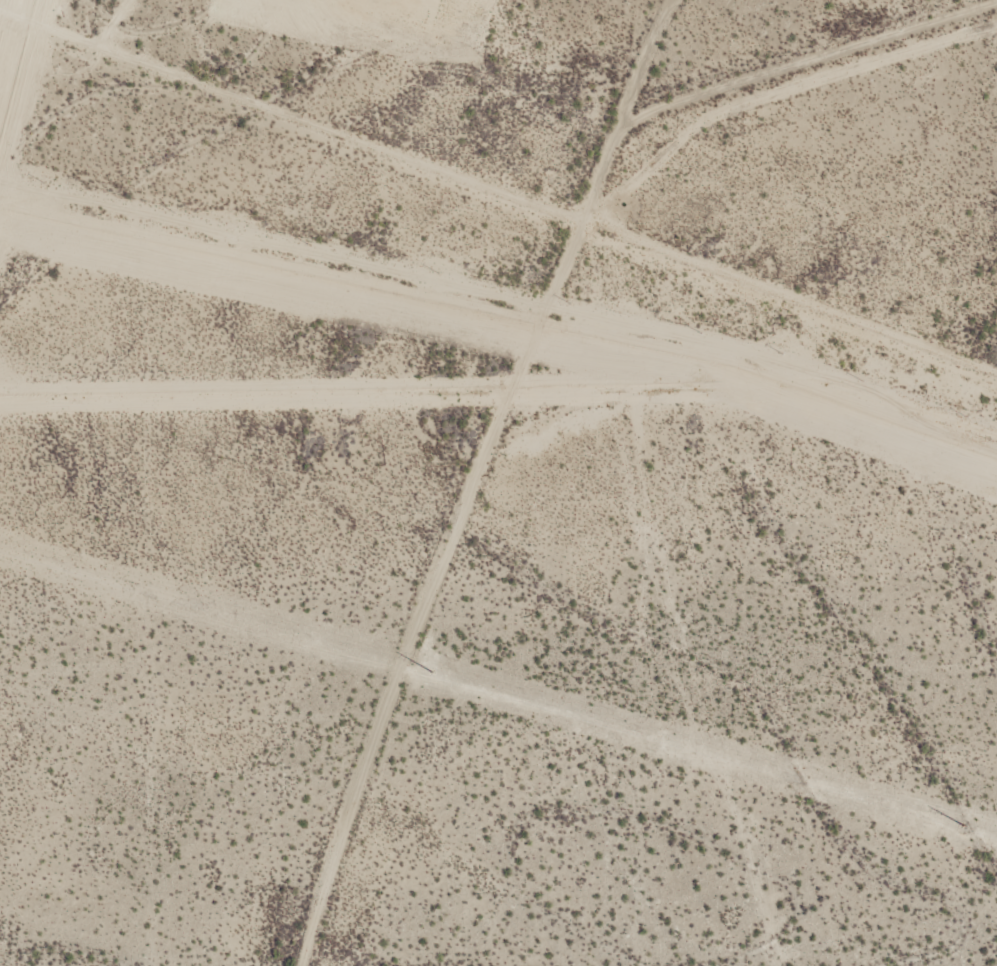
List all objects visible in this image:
road: (633, 63)
road: (513, 354)

